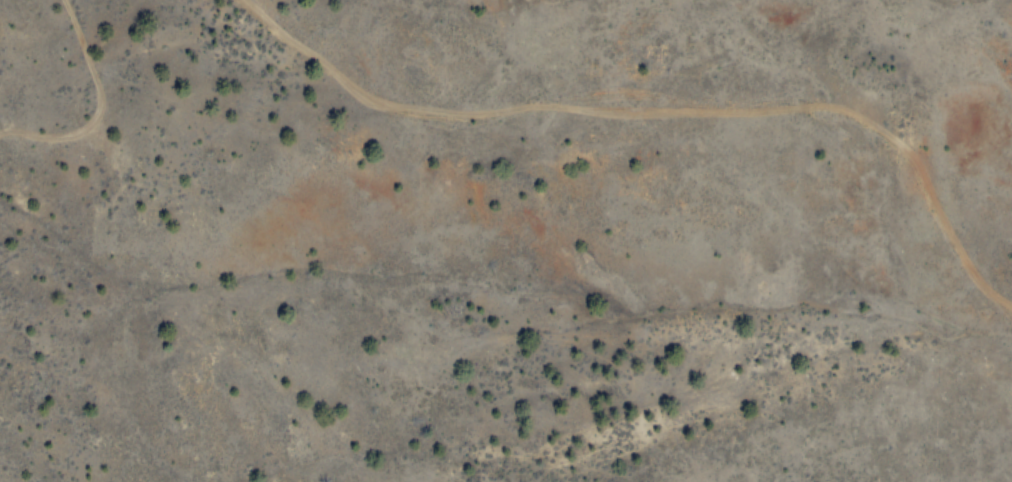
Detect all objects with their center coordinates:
road: (94, 104)
road: (660, 108)

